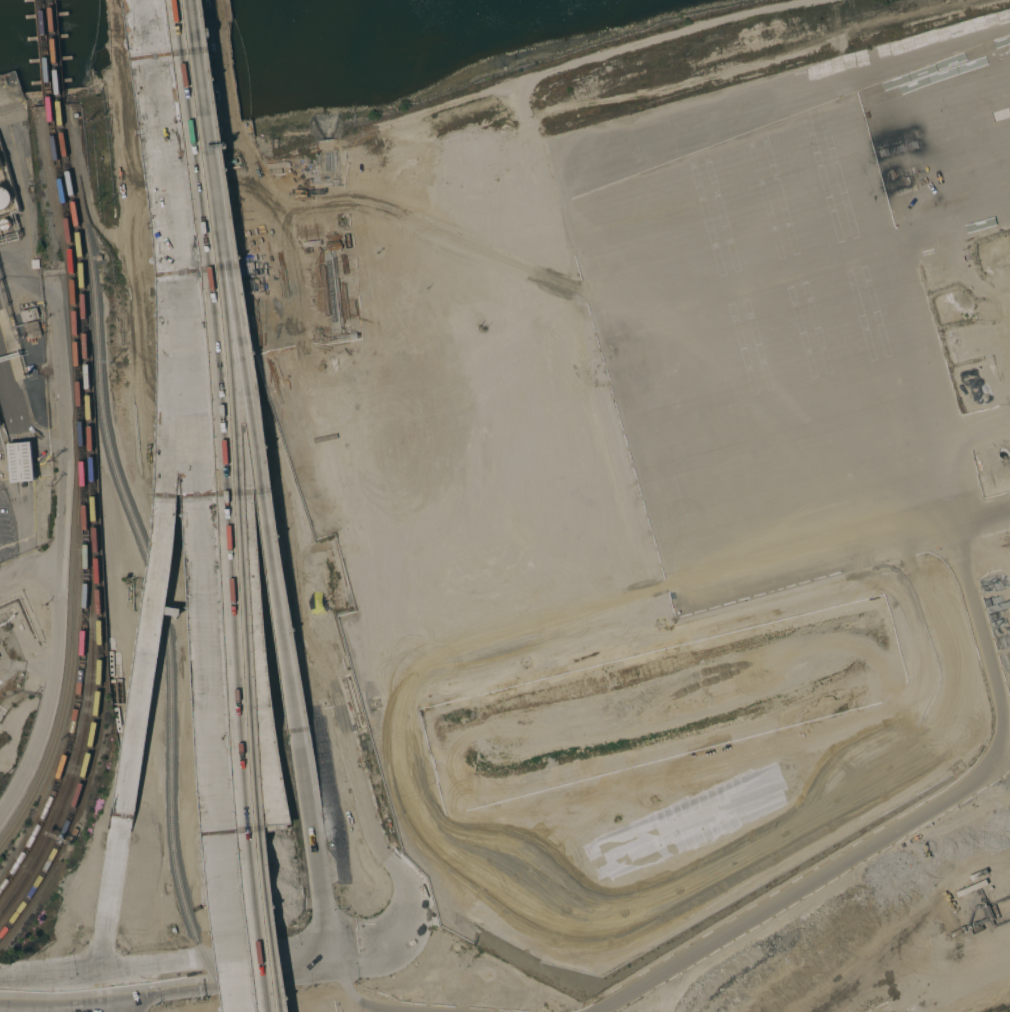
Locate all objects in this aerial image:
railway: (54, 51)
railway: (45, 52)
road: (159, 99)
railway: (59, 129)
road: (205, 135)
building: (0, 162)
building: (4, 198)
building: (32, 329)
building: (614, 337)
railway: (84, 394)
railway: (101, 396)
building: (20, 462)
road: (263, 499)
road: (61, 509)
road: (157, 515)
railway: (86, 519)
railway: (98, 558)
road: (28, 575)
road: (206, 605)
road: (239, 641)
railway: (73, 644)
railway: (75, 725)
road: (24, 770)
railway: (167, 832)
road: (312, 843)
road: (106, 905)
road: (308, 957)
road: (137, 990)
road: (51, 999)

